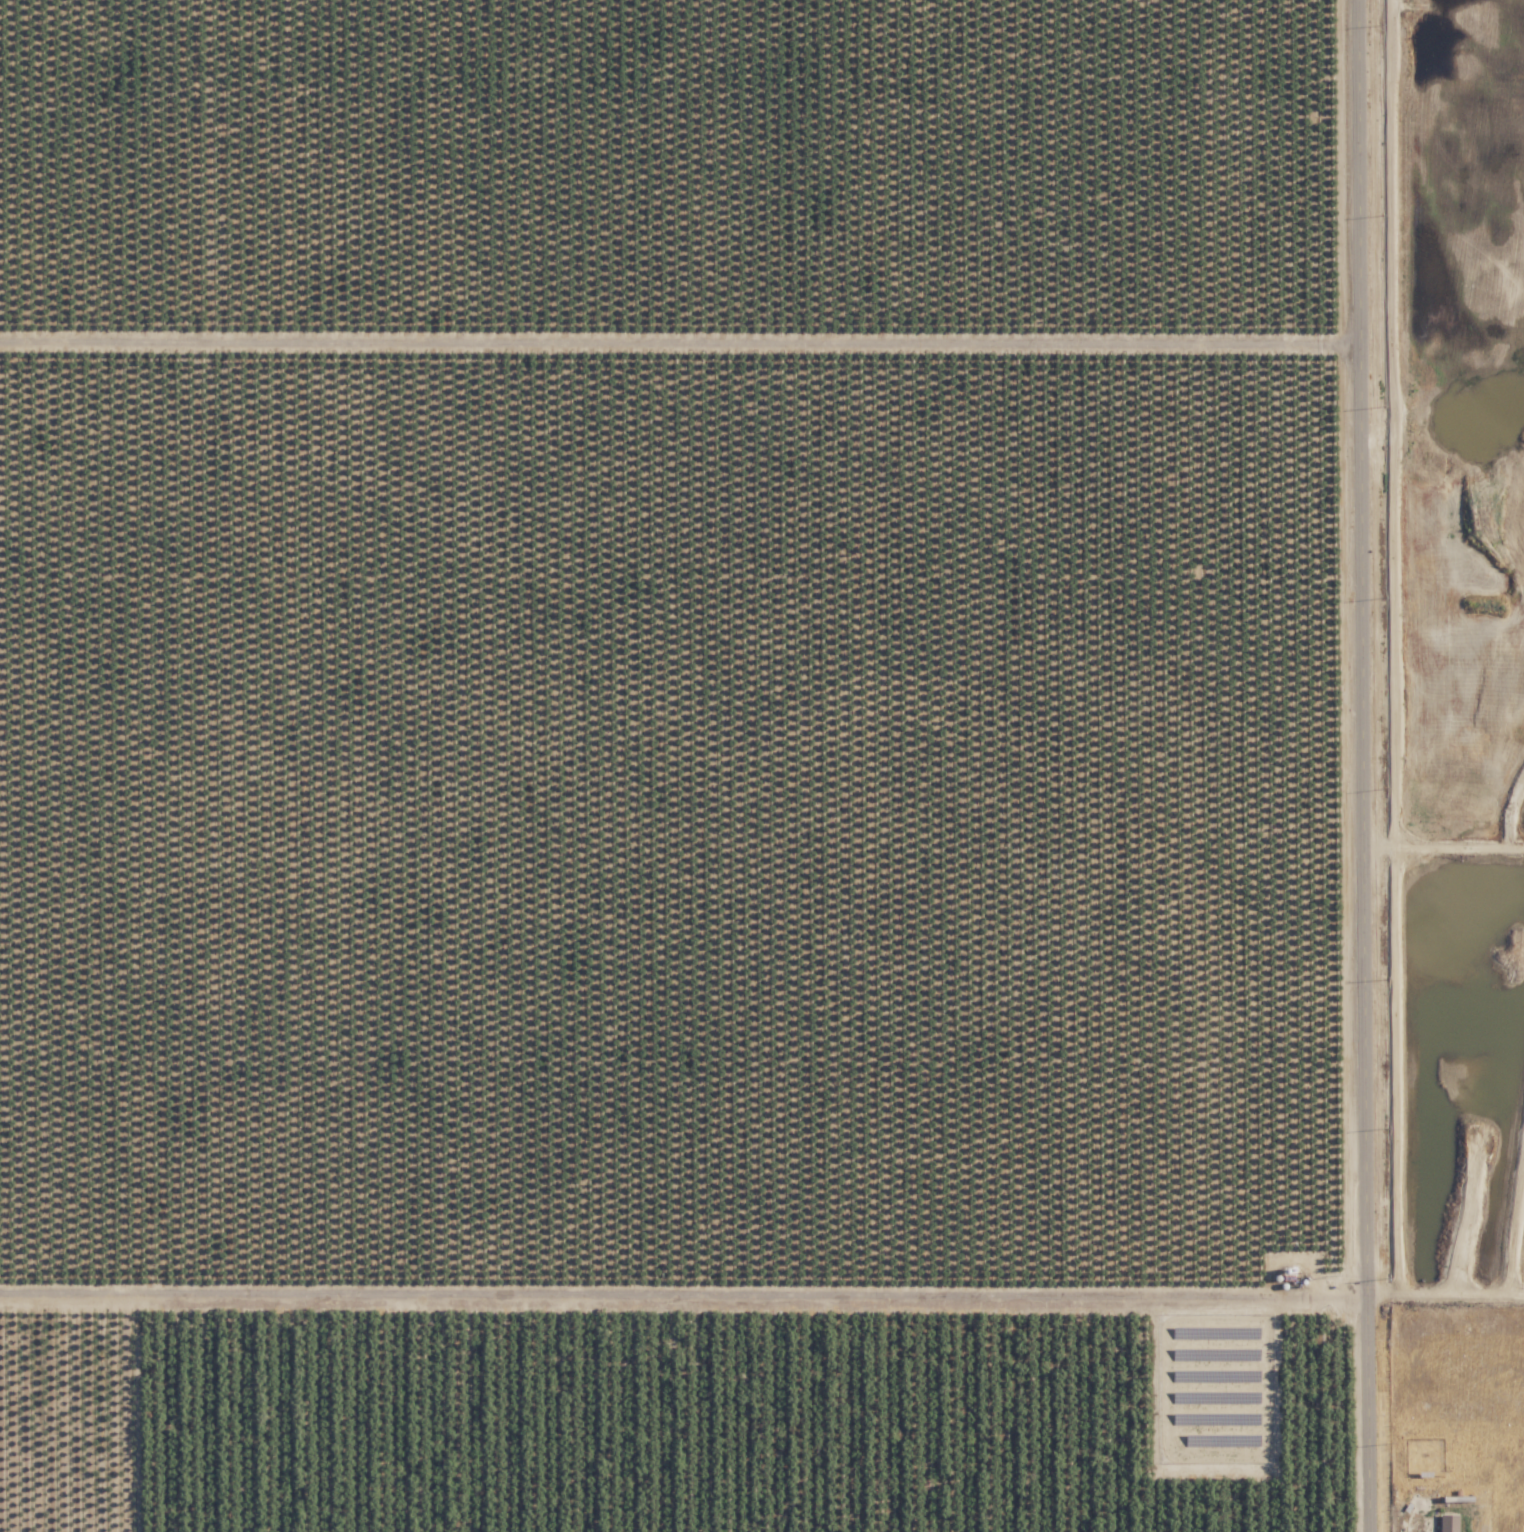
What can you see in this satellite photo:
road: (1363, 766)
building: (1446, 1523)

